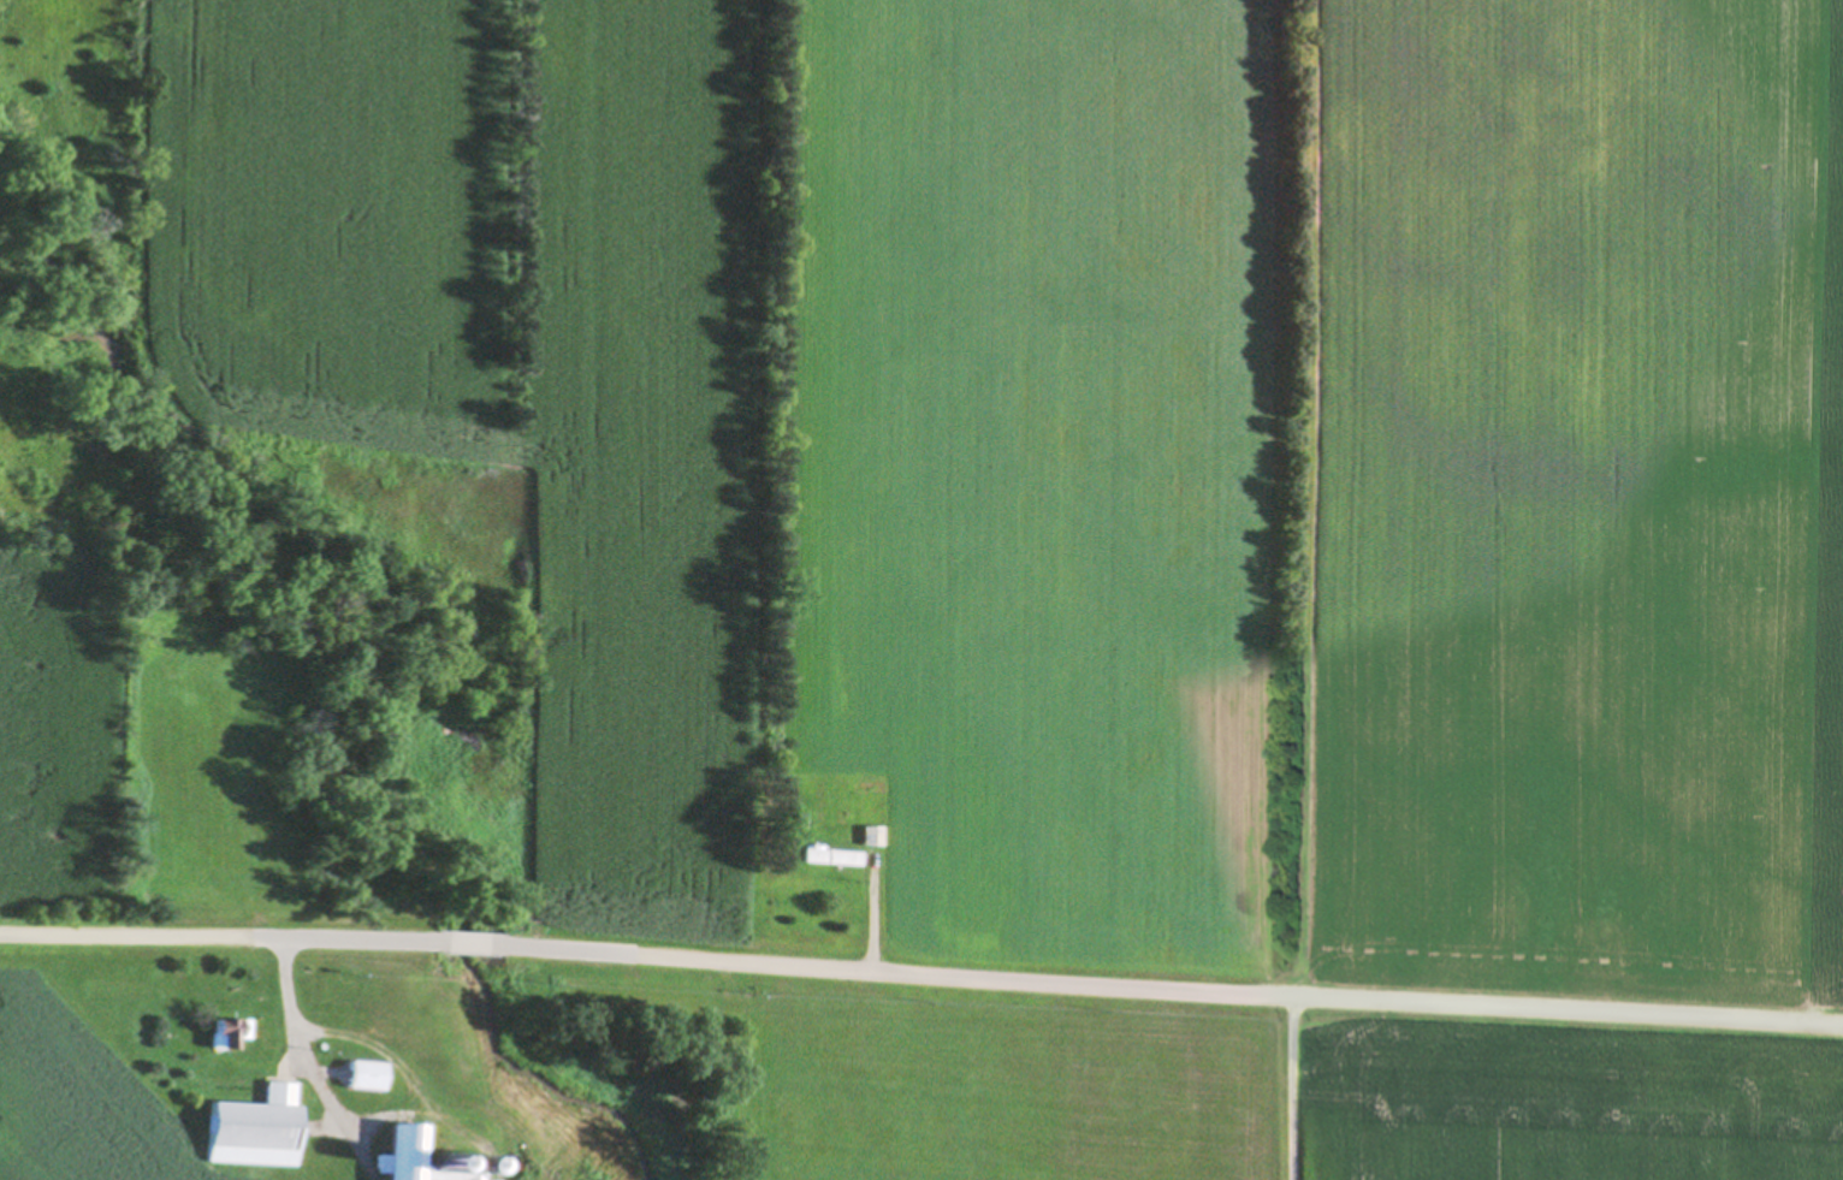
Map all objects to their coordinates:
building: (873, 836)
building: (834, 856)
road: (215, 935)
road: (463, 937)
road: (1169, 978)
building: (232, 1032)
building: (369, 1074)
road: (1287, 1081)
building: (259, 1128)
building: (411, 1154)
building: (484, 1179)

